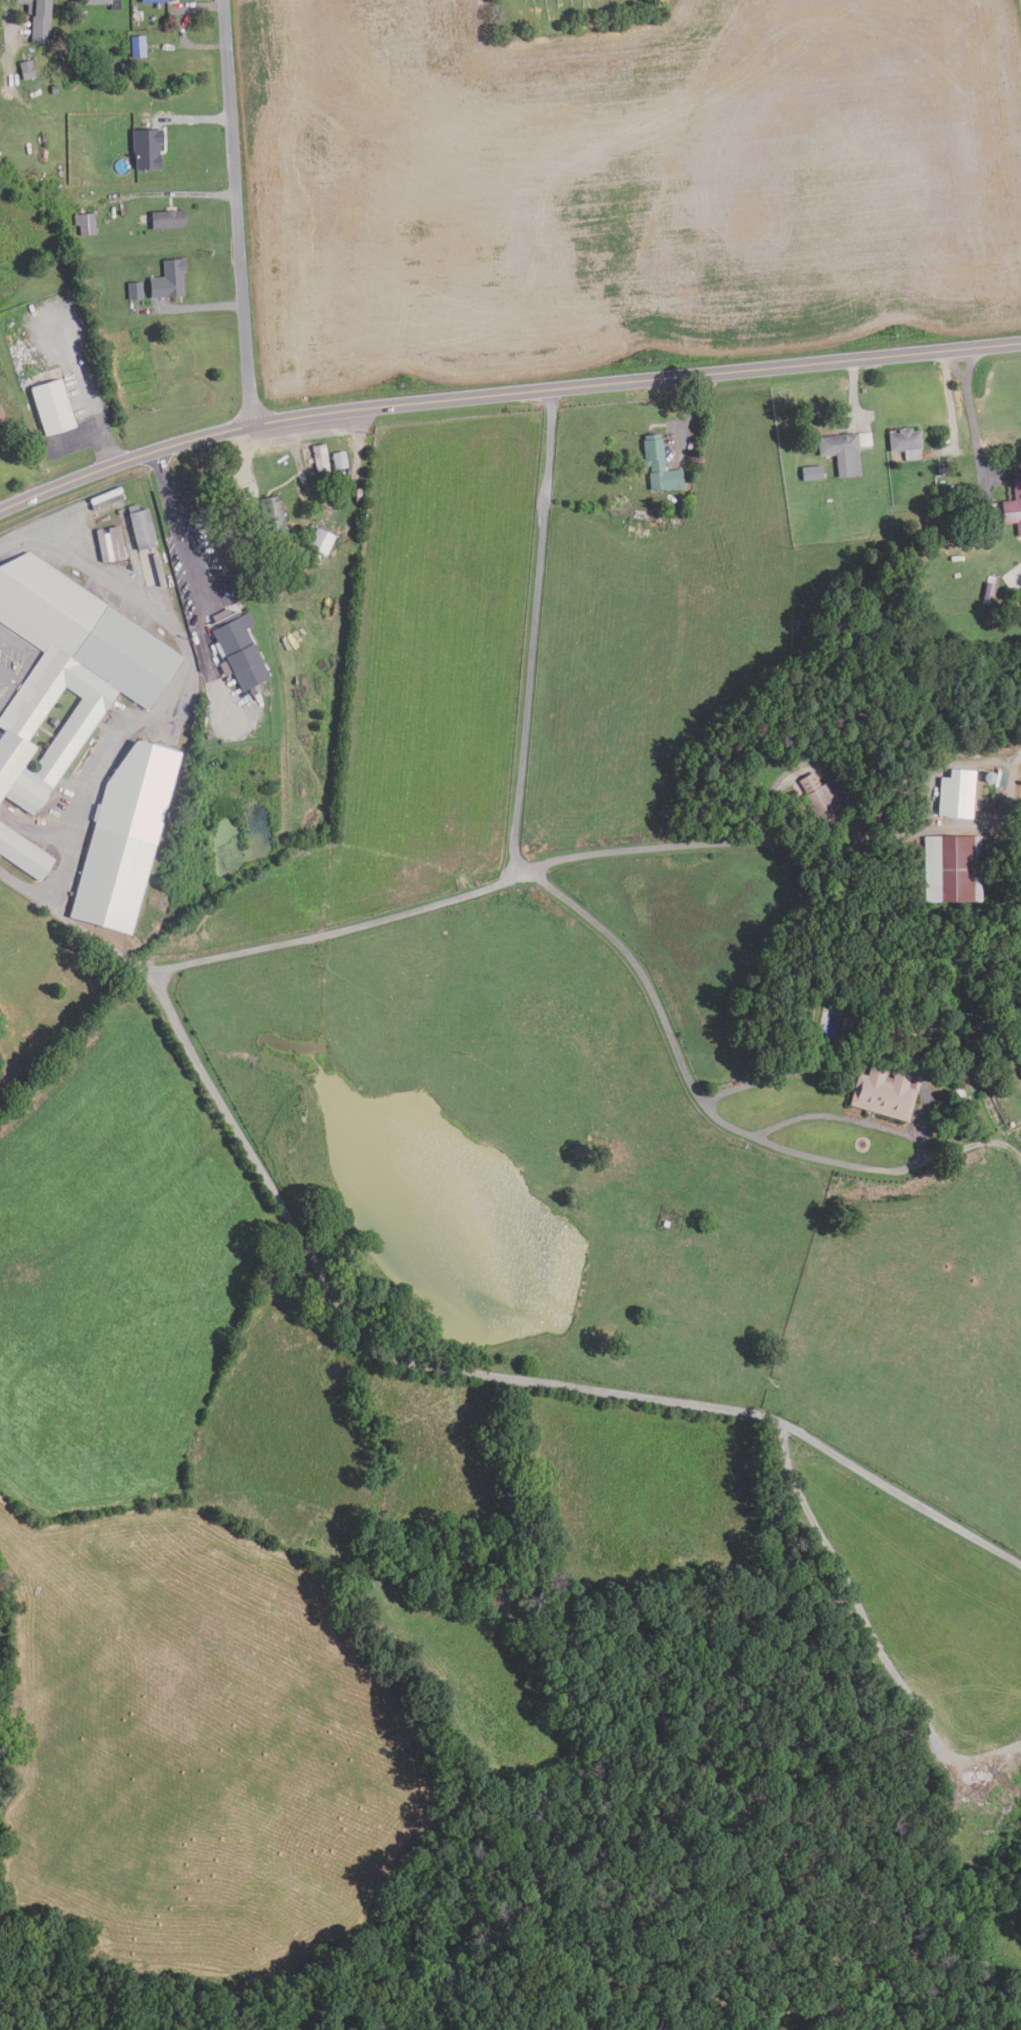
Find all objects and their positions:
building: (155, 1)
building: (105, 3)
building: (72, 6)
park: (568, 14)
building: (39, 19)
road: (7, 35)
building: (138, 47)
building: (27, 71)
building: (55, 90)
building: (147, 150)
crop: (622, 183)
road: (182, 195)
road: (238, 213)
building: (169, 219)
building: (86, 225)
building: (169, 279)
building: (135, 291)
road: (503, 396)
building: (53, 406)
building: (2, 416)
road: (99, 421)
road: (972, 426)
building: (907, 443)
building: (846, 450)
building: (318, 459)
building: (339, 460)
building: (659, 465)
building: (944, 471)
building: (813, 473)
building: (359, 495)
building: (1014, 506)
building: (273, 515)
building: (640, 521)
building: (141, 527)
building: (997, 529)
road: (180, 531)
building: (322, 541)
building: (300, 578)
building: (270, 588)
building: (989, 591)
road: (533, 635)
building: (238, 650)
building: (67, 671)
building: (93, 750)
building: (1001, 778)
building: (957, 794)
building: (820, 798)
building: (899, 804)
building: (0, 805)
road: (885, 830)
building: (124, 839)
road: (635, 850)
building: (23, 854)
building: (954, 869)
road: (341, 931)
building: (845, 1024)
building: (936, 1054)
road: (865, 1056)
building: (885, 1092)
building: (958, 1095)
road: (838, 1118)
road: (722, 1122)
road: (448, 1367)
river: (473, 1922)

